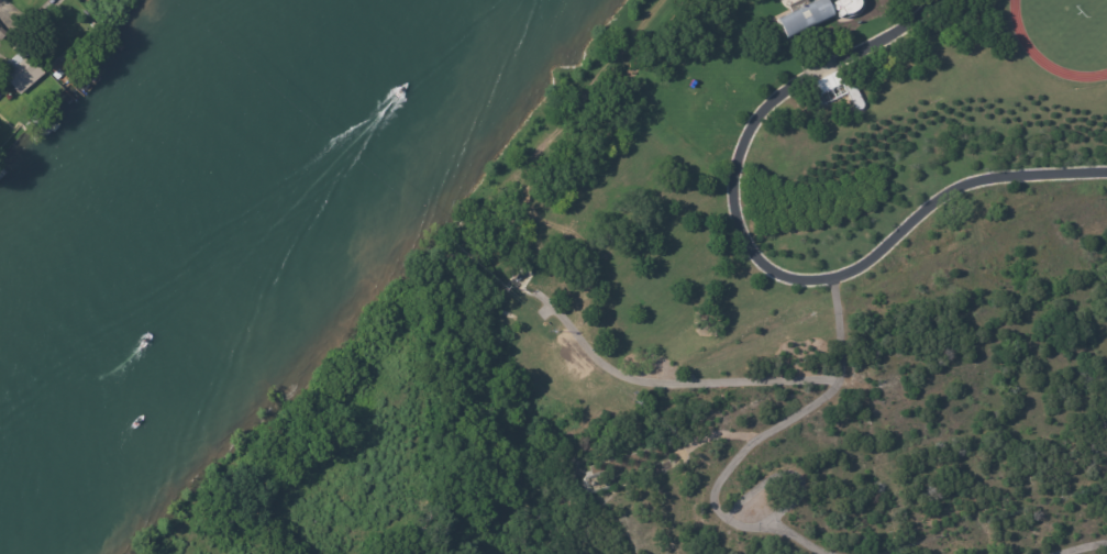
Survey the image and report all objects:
park: (1092, 15)
building: (809, 16)
park: (135, 20)
building: (2, 34)
track: (1065, 37)
building: (20, 70)
road: (763, 261)
river: (240, 273)
building: (519, 278)
road: (669, 381)
road: (750, 443)
road: (1078, 546)

